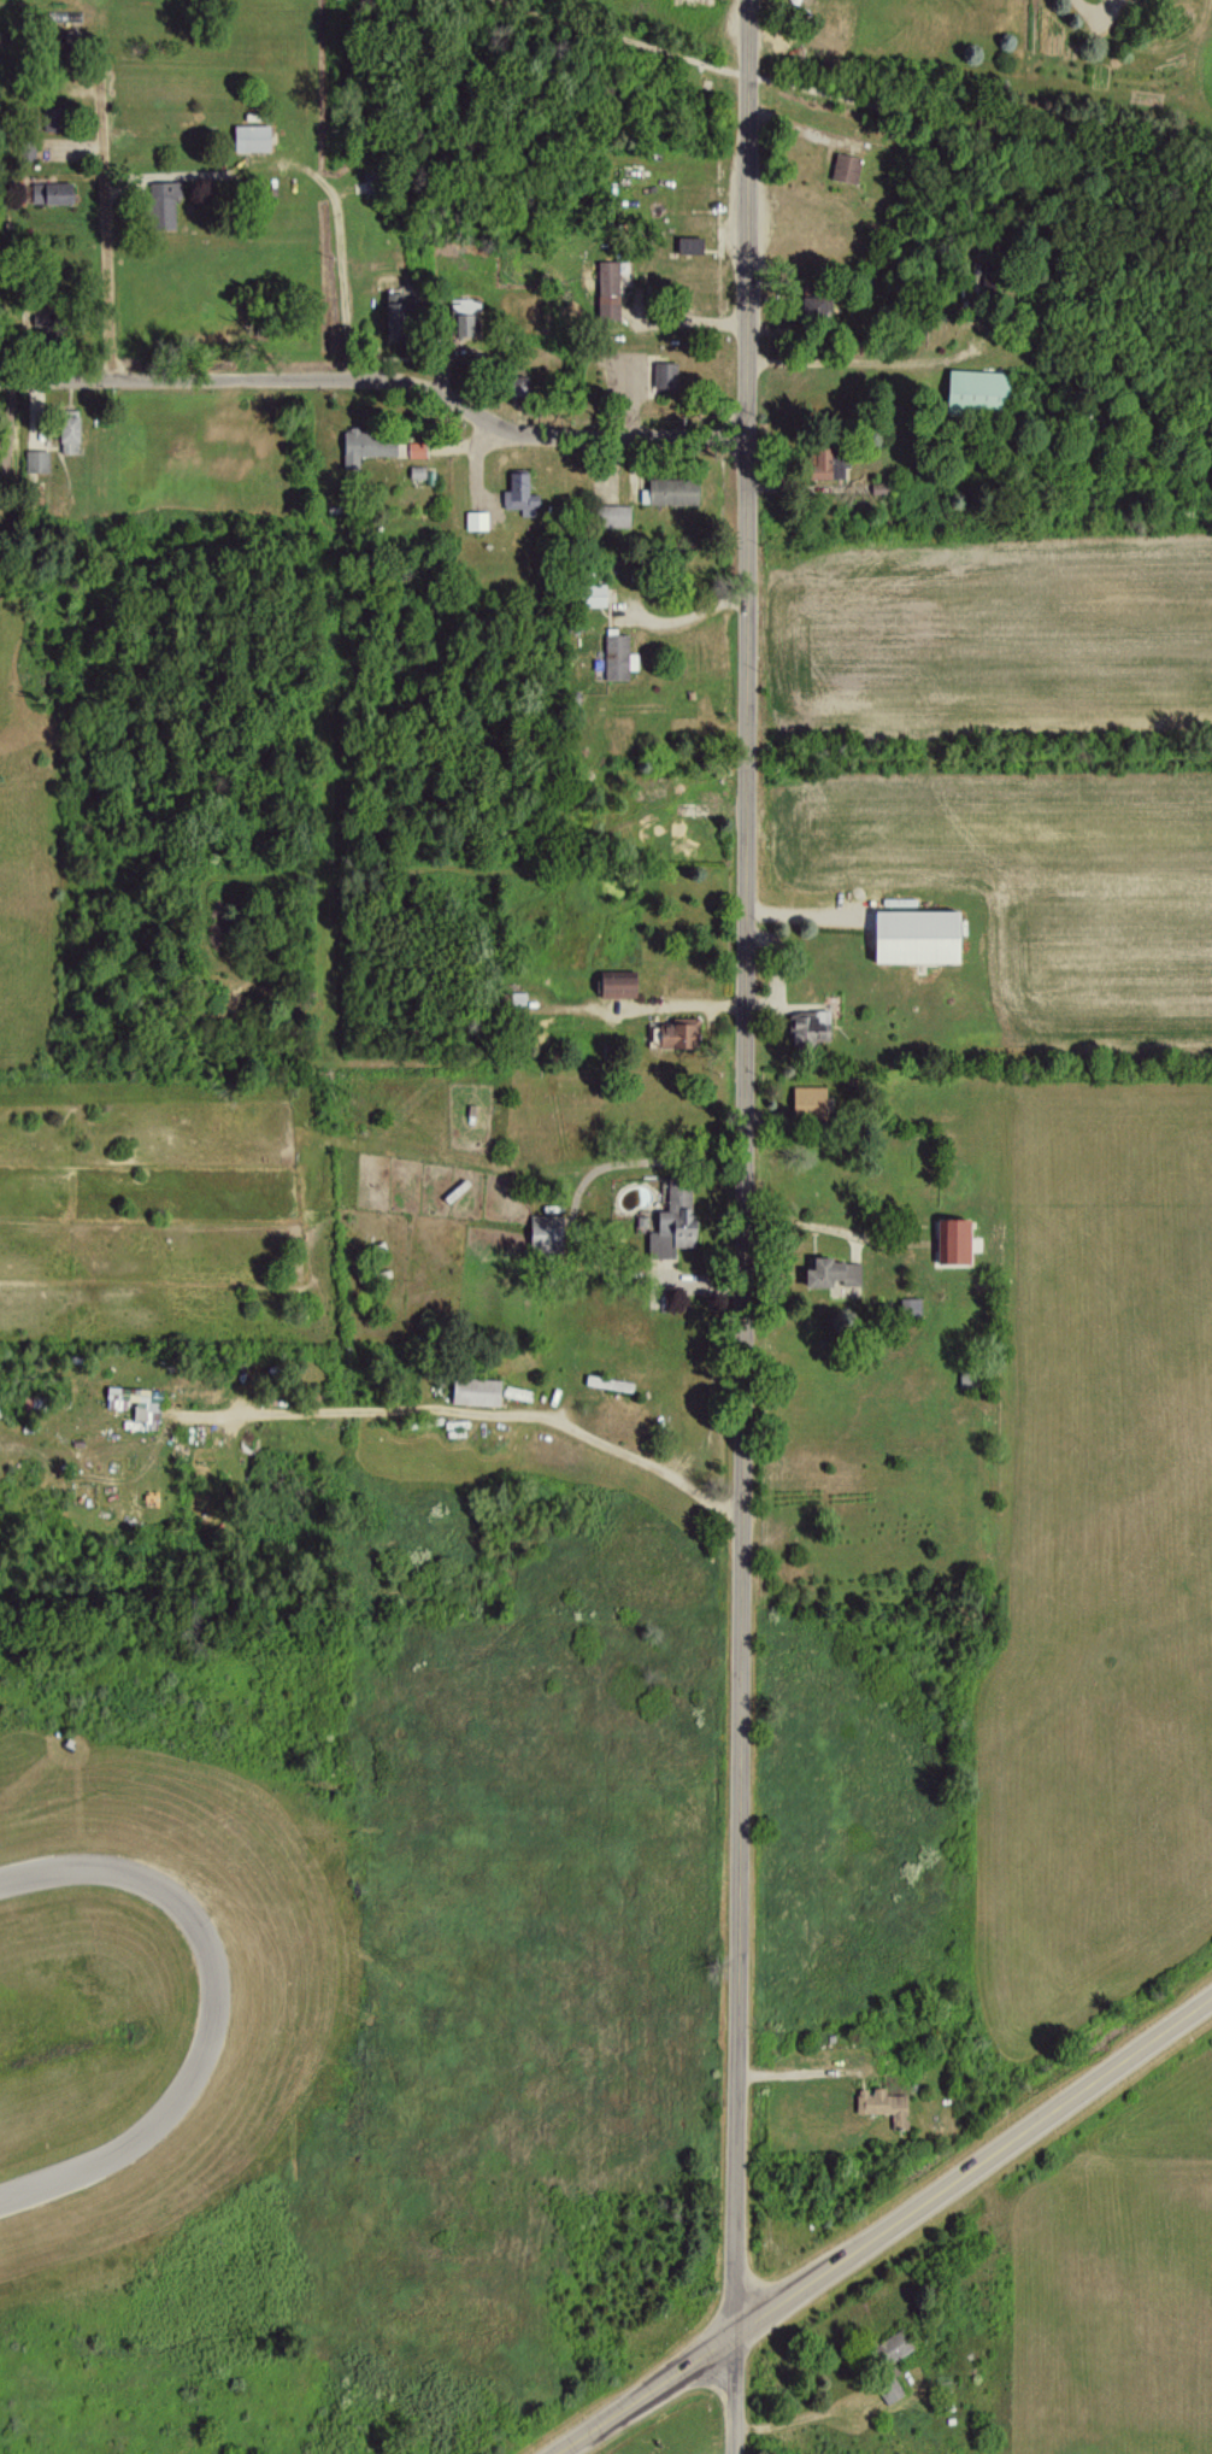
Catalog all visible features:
road: (855, 99)
building: (248, 136)
building: (24, 148)
building: (843, 166)
building: (49, 192)
building: (159, 202)
building: (687, 245)
road: (107, 246)
building: (606, 289)
building: (393, 307)
building: (811, 307)
building: (461, 315)
building: (663, 374)
road: (57, 383)
building: (511, 383)
building: (973, 389)
road: (430, 391)
building: (66, 430)
building: (365, 445)
building: (416, 448)
building: (36, 460)
building: (823, 463)
building: (669, 491)
building: (34, 493)
building: (518, 494)
building: (612, 515)
building: (476, 519)
building: (592, 593)
building: (617, 656)
building: (912, 934)
building: (612, 982)
road: (657, 1010)
building: (806, 1027)
building: (675, 1031)
building: (806, 1098)
road: (741, 1167)
road: (572, 1216)
building: (669, 1222)
building: (539, 1231)
building: (948, 1239)
building: (828, 1270)
building: (907, 1304)
building: (607, 1382)
building: (472, 1390)
building: (142, 1405)
road: (486, 1416)
raceway: (359, 1872)
raceway: (25, 1875)
raceway: (211, 1974)
building: (882, 2104)
raceway: (54, 2176)
road: (886, 2230)
building: (889, 2346)
building: (887, 2388)
road: (737, 2395)

